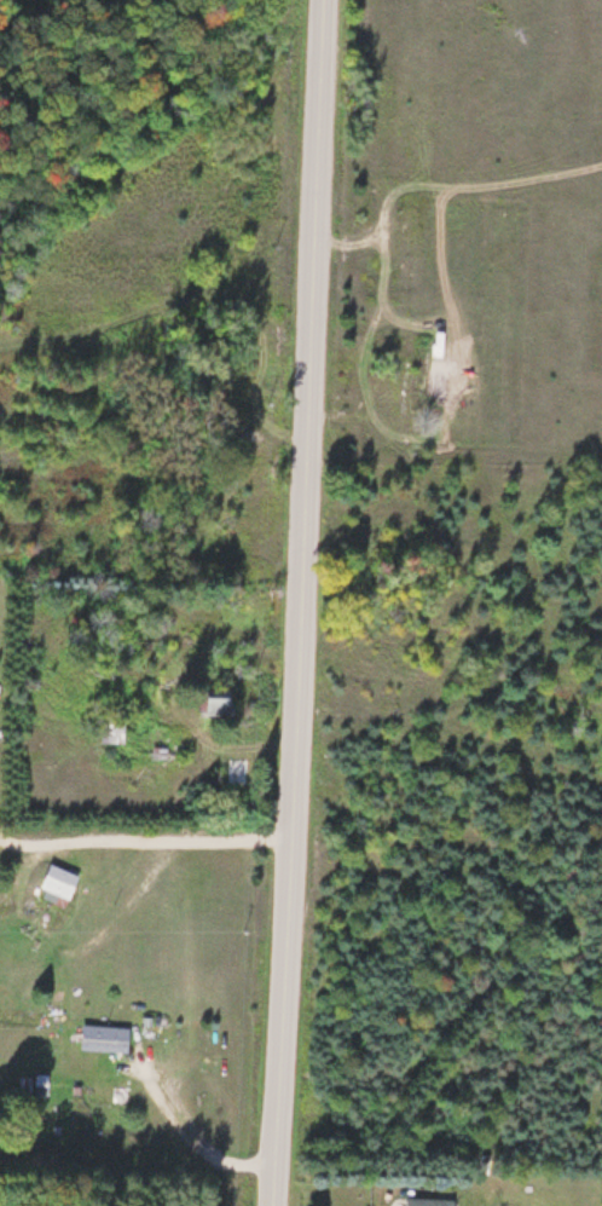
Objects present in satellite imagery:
building: (405, 386)
road: (307, 602)
building: (216, 700)
building: (237, 769)
building: (57, 879)
building: (104, 1037)
building: (45, 1083)
building: (428, 1201)

